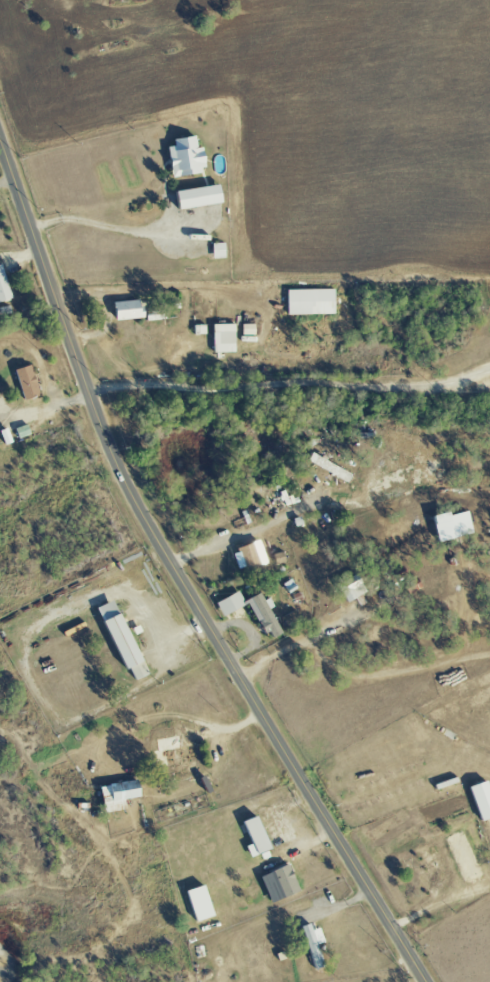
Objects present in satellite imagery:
building: (185, 158)
building: (197, 197)
road: (106, 225)
building: (217, 251)
building: (3, 288)
building: (309, 302)
building: (126, 310)
building: (247, 330)
building: (223, 338)
road: (290, 382)
building: (26, 383)
building: (328, 468)
building: (453, 527)
road: (237, 537)
building: (249, 557)
road: (180, 577)
building: (351, 590)
building: (229, 604)
building: (263, 616)
building: (118, 635)
road: (301, 643)
building: (117, 796)
building: (481, 800)
building: (254, 838)
building: (462, 856)
building: (281, 885)
building: (198, 904)
building: (312, 945)

